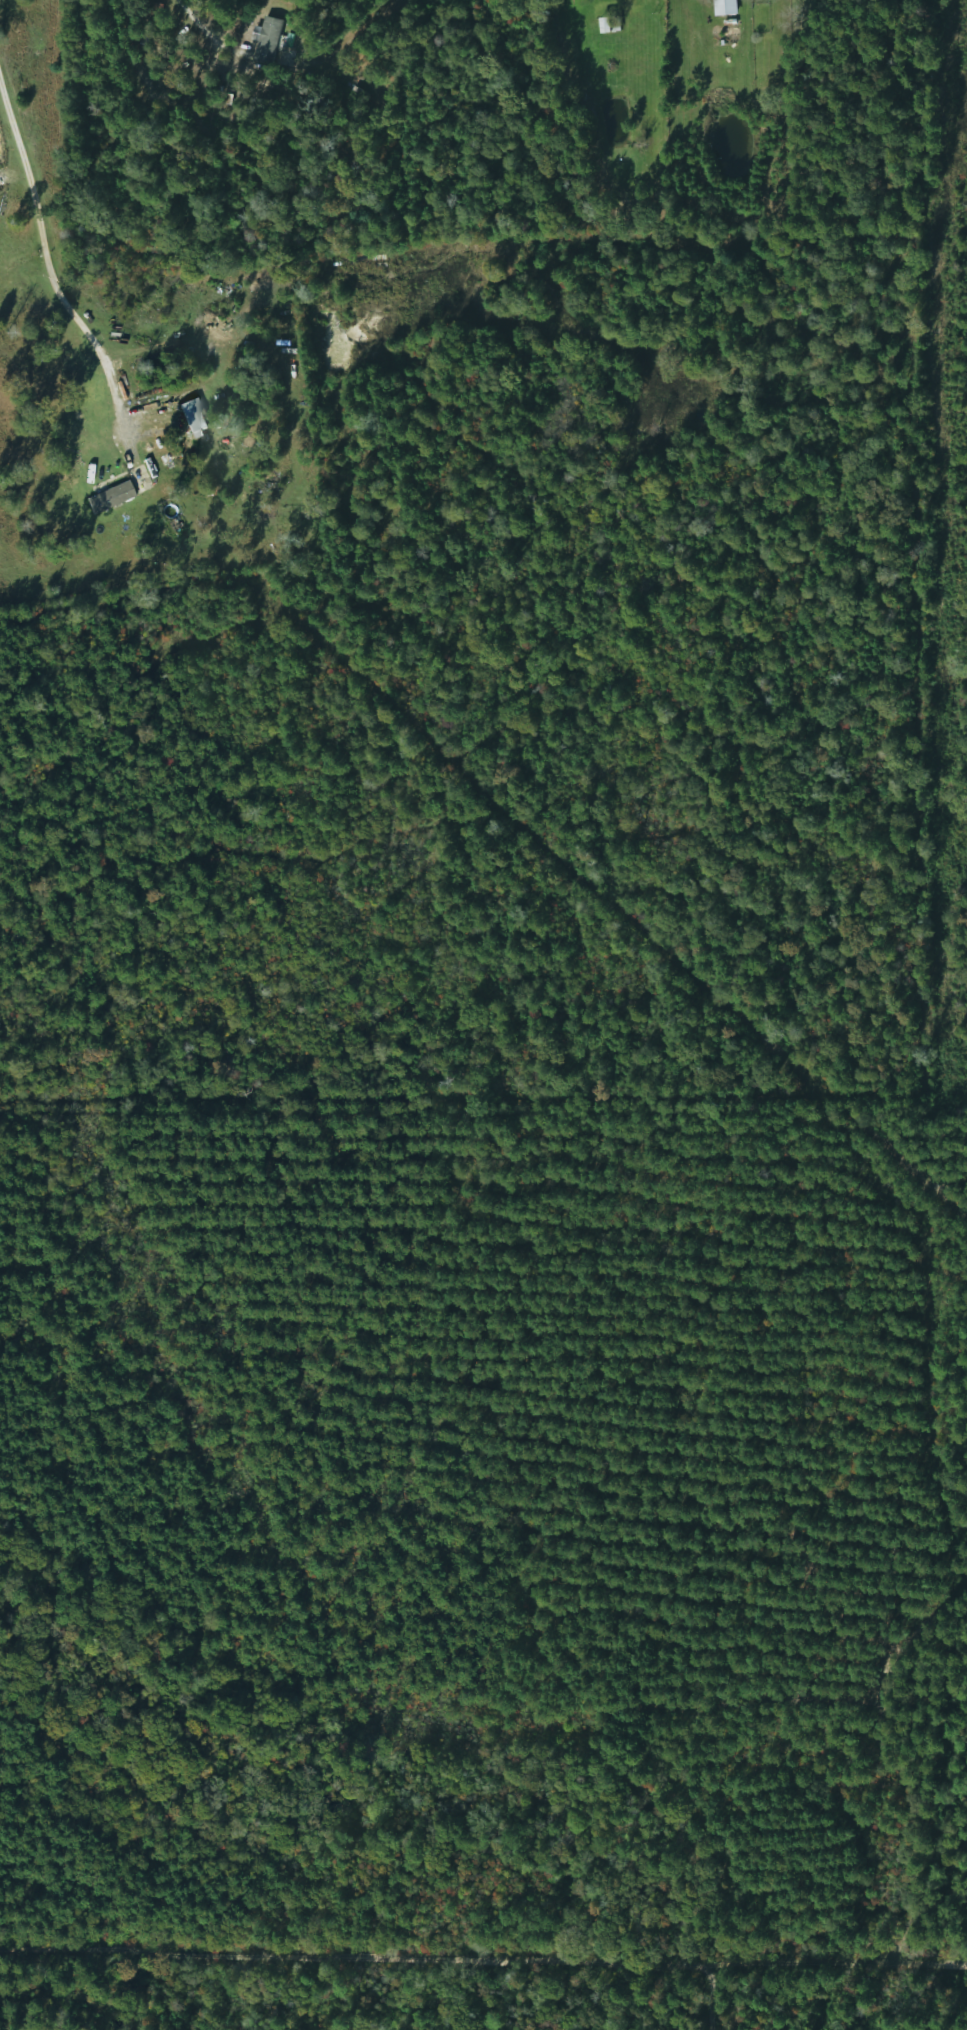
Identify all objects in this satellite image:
building: (724, 7)
road: (198, 18)
building: (609, 24)
building: (277, 55)
road: (56, 249)
building: (192, 415)
building: (110, 498)
road: (483, 1947)
road: (690, 1989)

